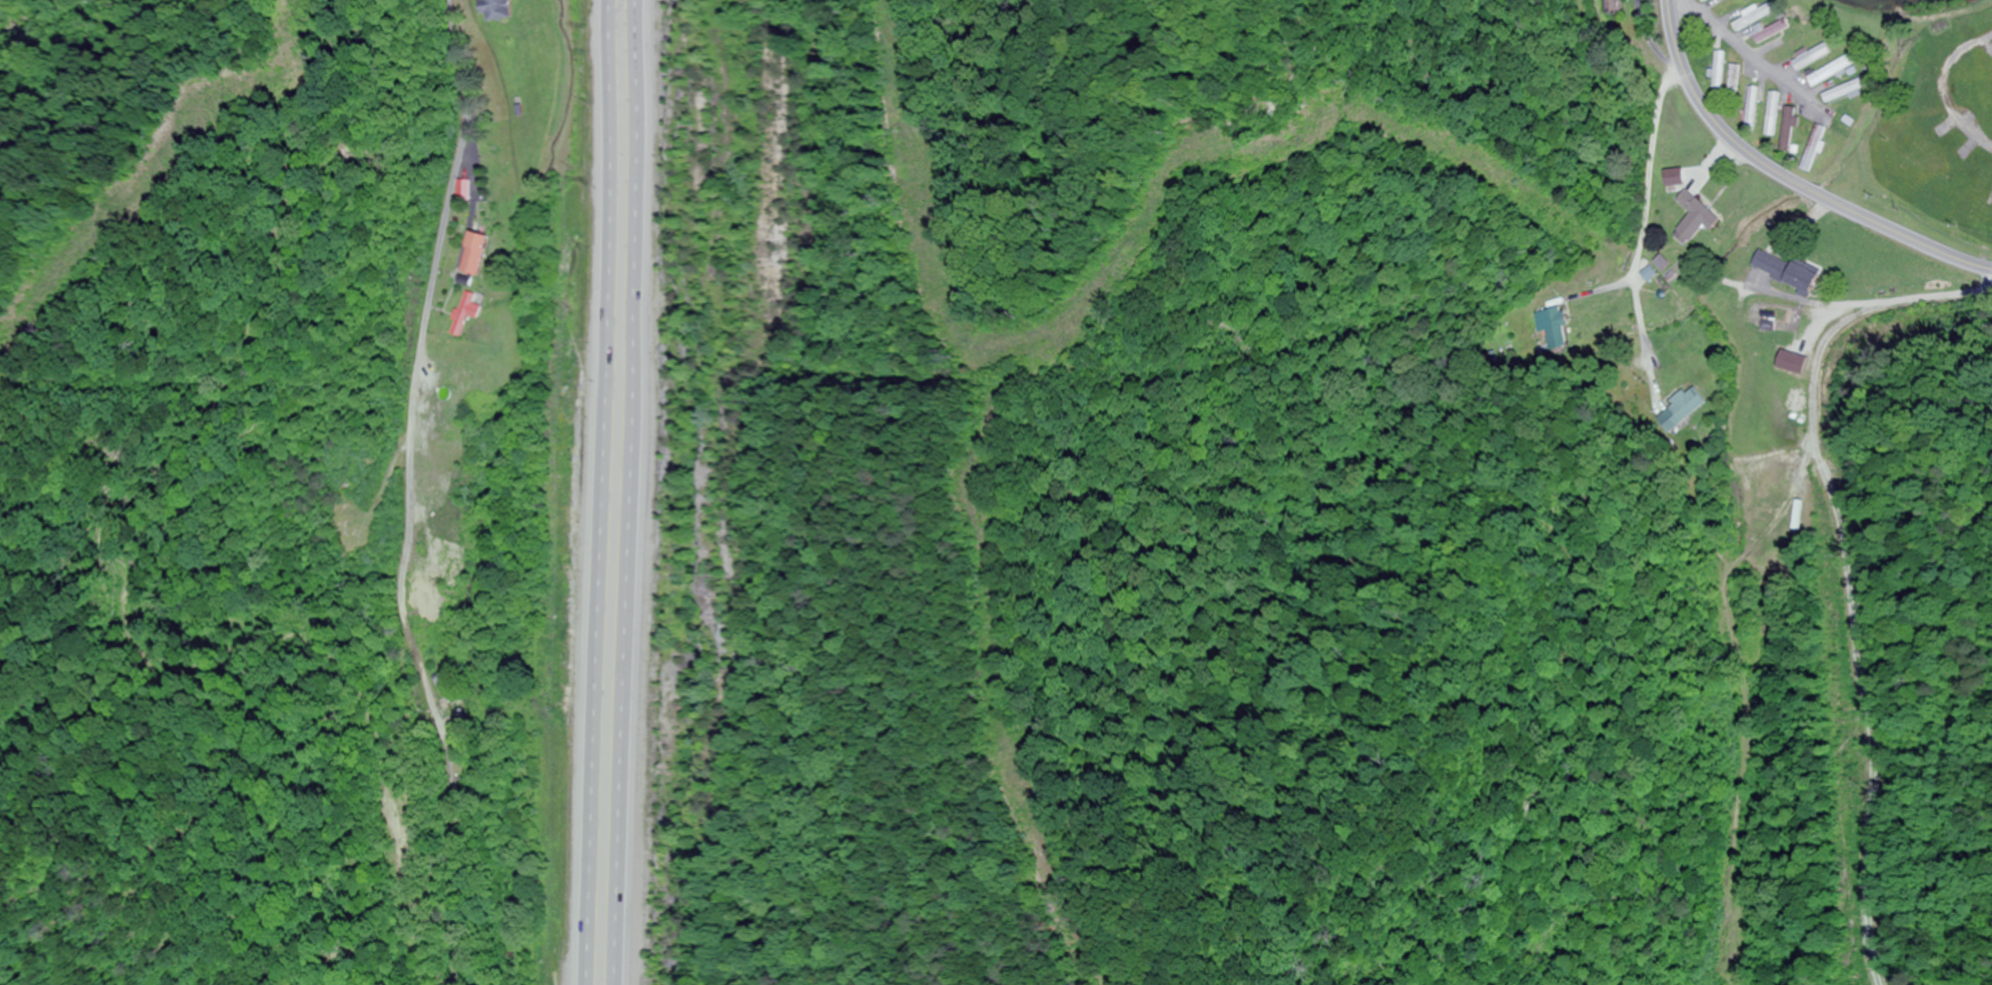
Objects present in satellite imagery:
building: (1706, 0)
river: (1879, 4)
building: (1737, 5)
building: (1613, 7)
building: (495, 9)
building: (1757, 17)
building: (1775, 31)
road: (1644, 43)
road: (1751, 53)
building: (1721, 70)
building: (1836, 70)
building: (1736, 81)
road: (1947, 87)
building: (1848, 90)
building: (1755, 106)
building: (1776, 113)
building: (1792, 129)
road: (1647, 168)
road: (1788, 177)
building: (463, 190)
building: (1696, 218)
building: (475, 253)
building: (1788, 271)
building: (466, 312)
building: (1558, 331)
building: (1683, 409)
road: (599, 492)
road: (632, 492)
road: (410, 493)
building: (449, 688)

